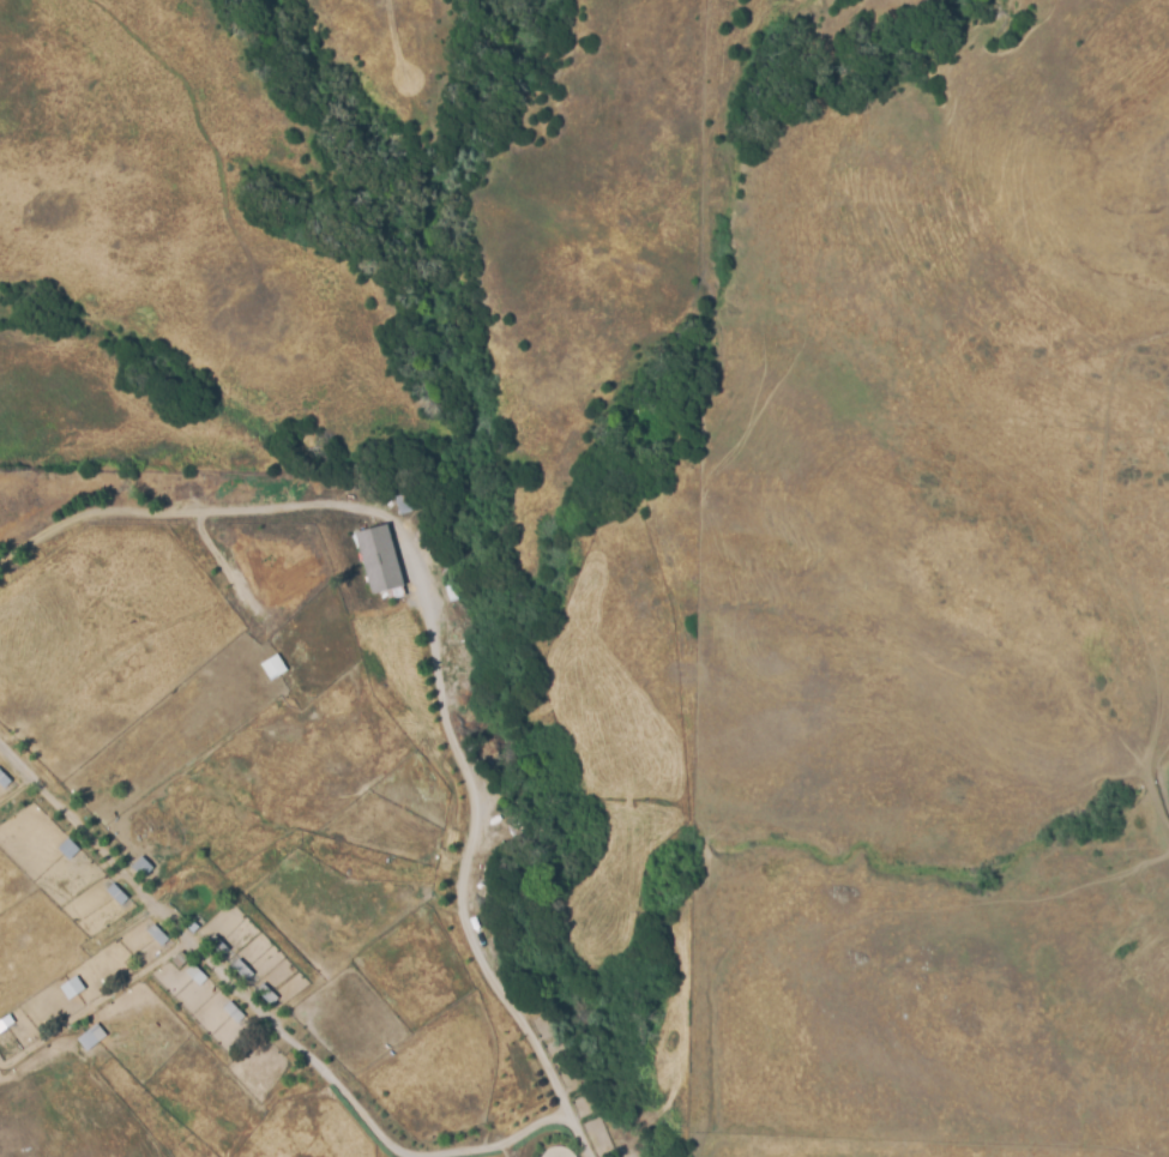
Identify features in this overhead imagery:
road: (200, 513)
building: (378, 558)
building: (272, 667)
building: (4, 781)
building: (68, 849)
road: (468, 860)
building: (141, 867)
building: (116, 894)
building: (157, 935)
building: (217, 945)
road: (204, 957)
building: (180, 960)
building: (241, 970)
building: (195, 975)
building: (73, 989)
building: (265, 994)
building: (234, 1012)
building: (94, 1038)
road: (506, 1143)

